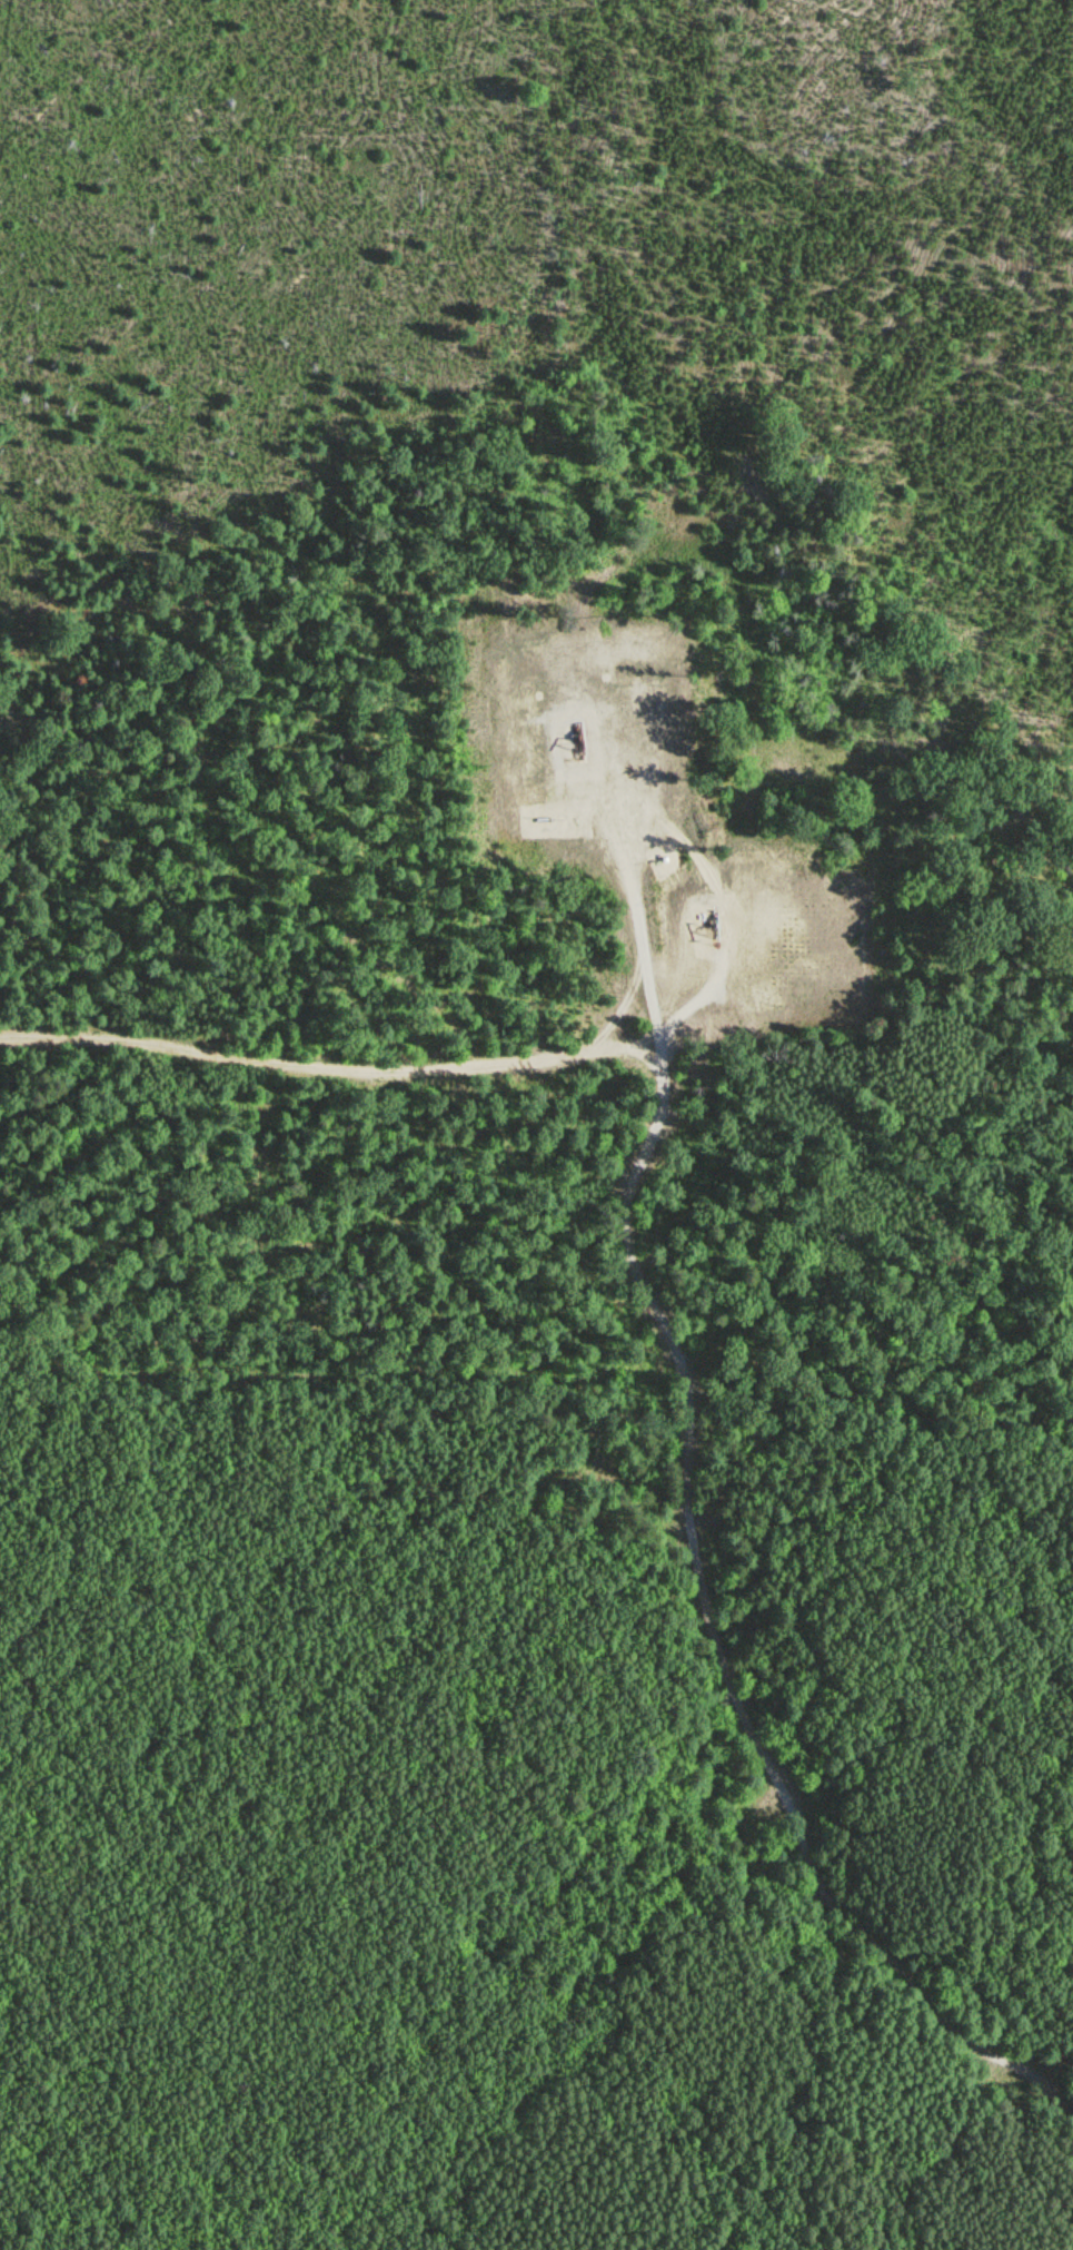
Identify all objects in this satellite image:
petroleum well: (719, 926)
road: (329, 1068)
road: (701, 1562)

